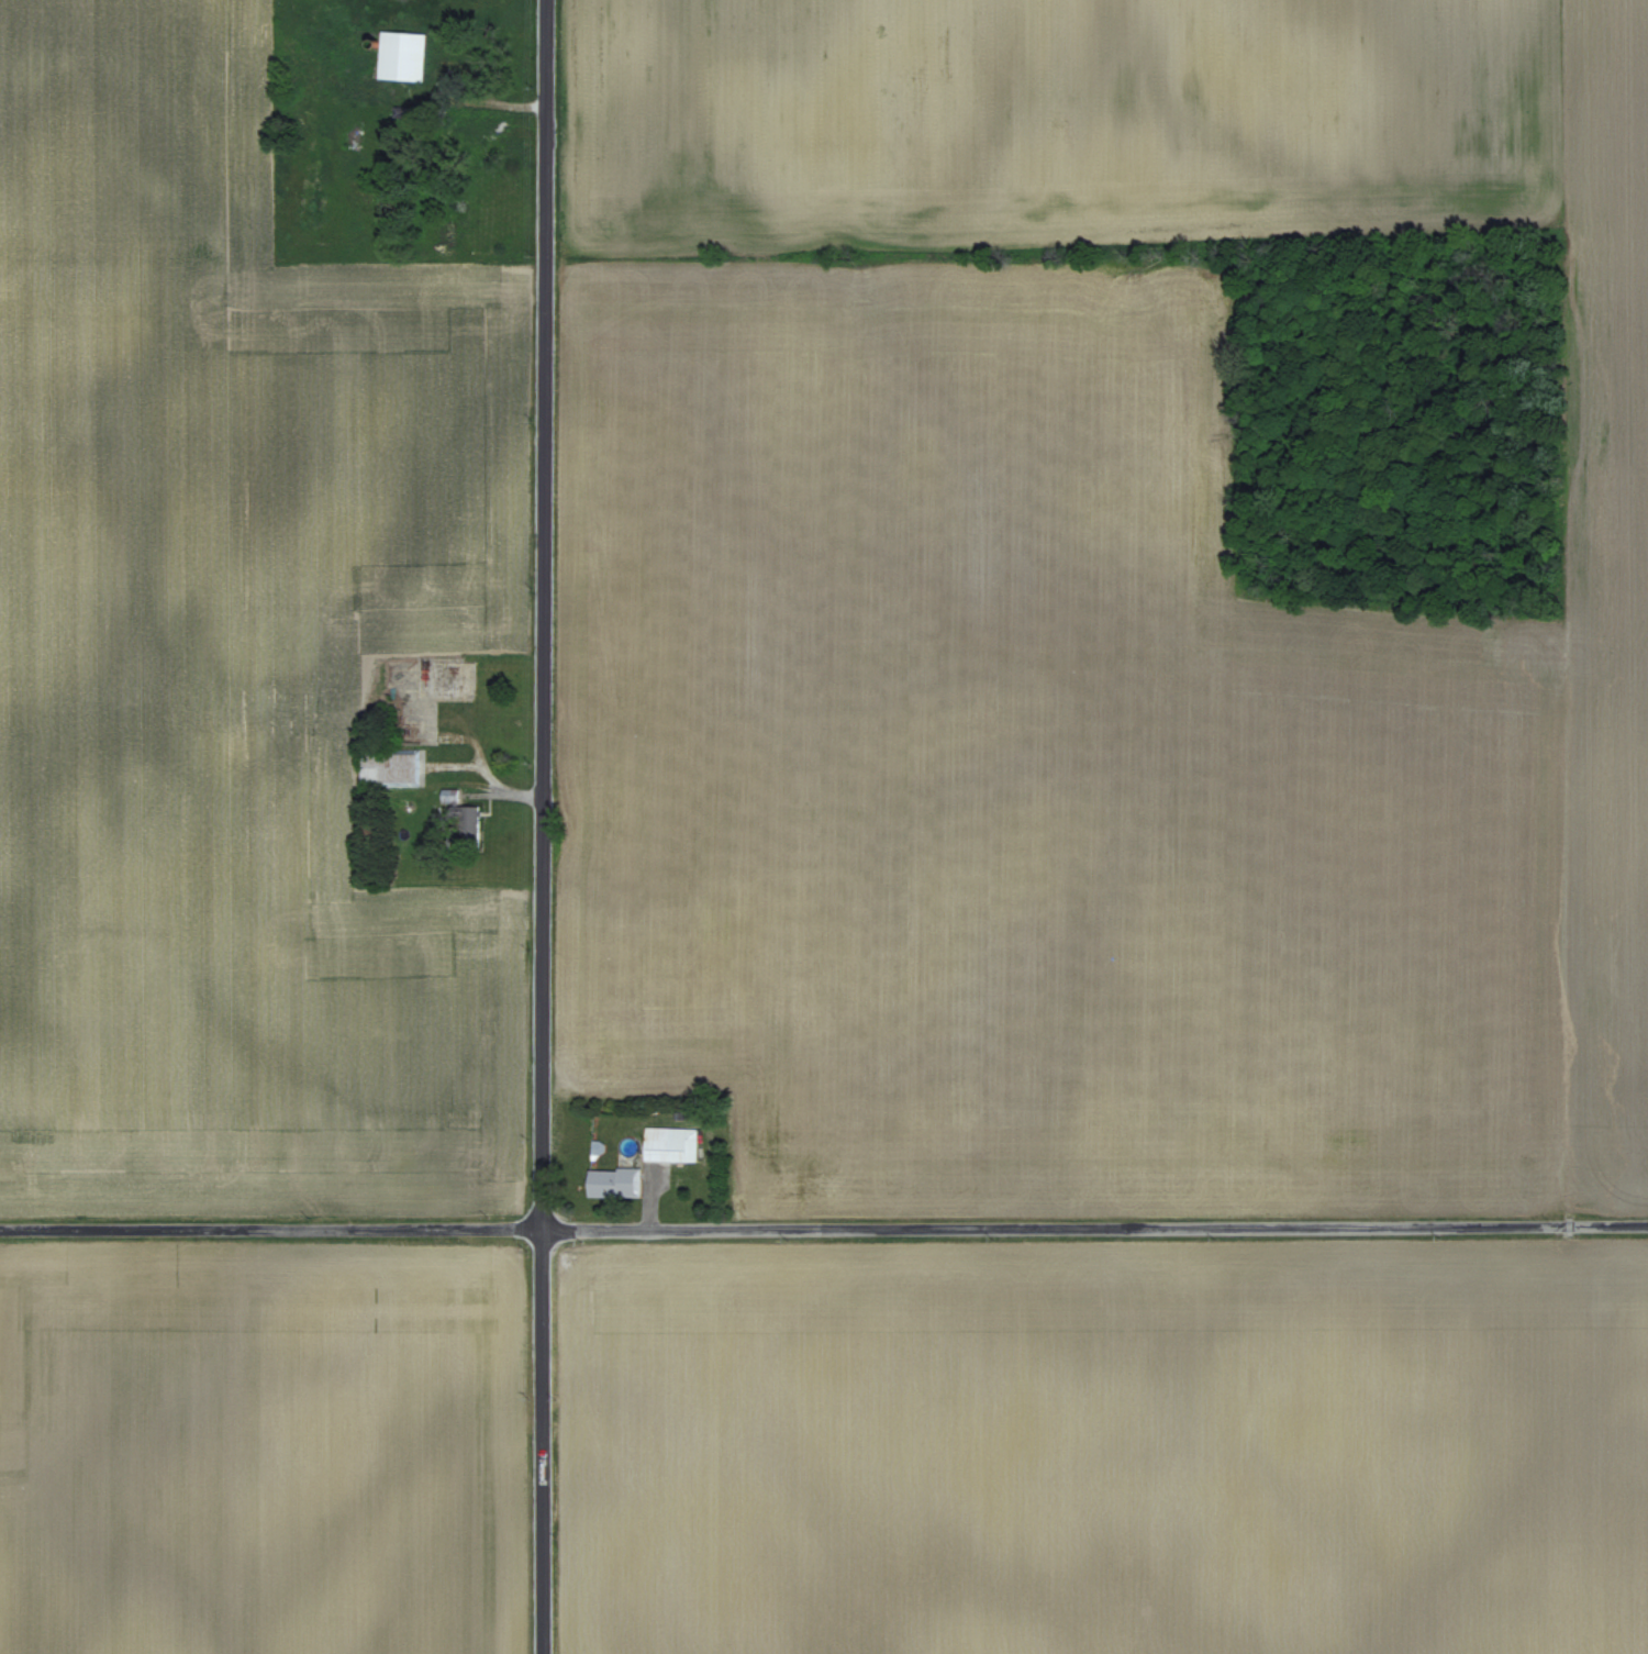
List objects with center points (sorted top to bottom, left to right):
building: (402, 56)
road: (443, 97)
building: (463, 132)
building: (445, 680)
building: (389, 767)
road: (543, 826)
building: (672, 1147)
building: (613, 1183)
road: (824, 1229)

